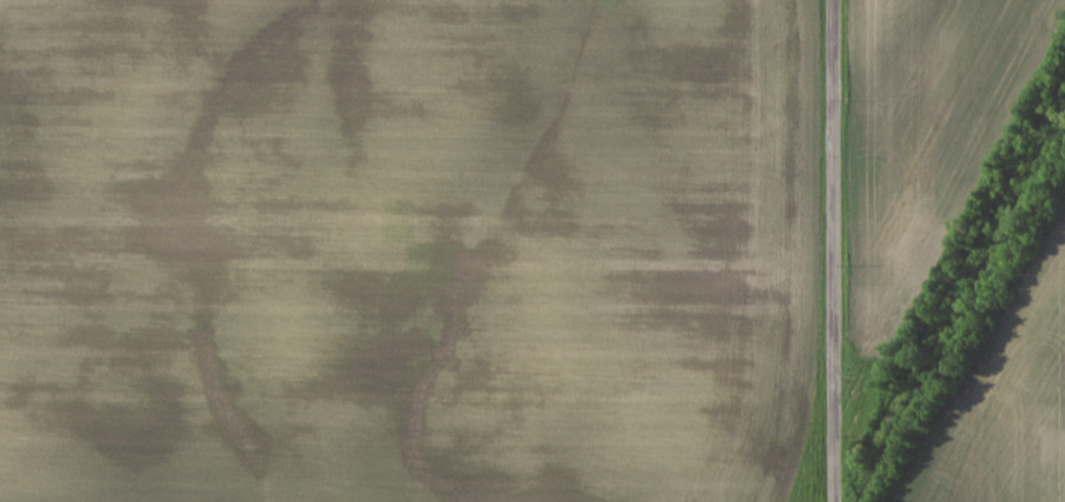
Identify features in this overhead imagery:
road: (835, 251)

